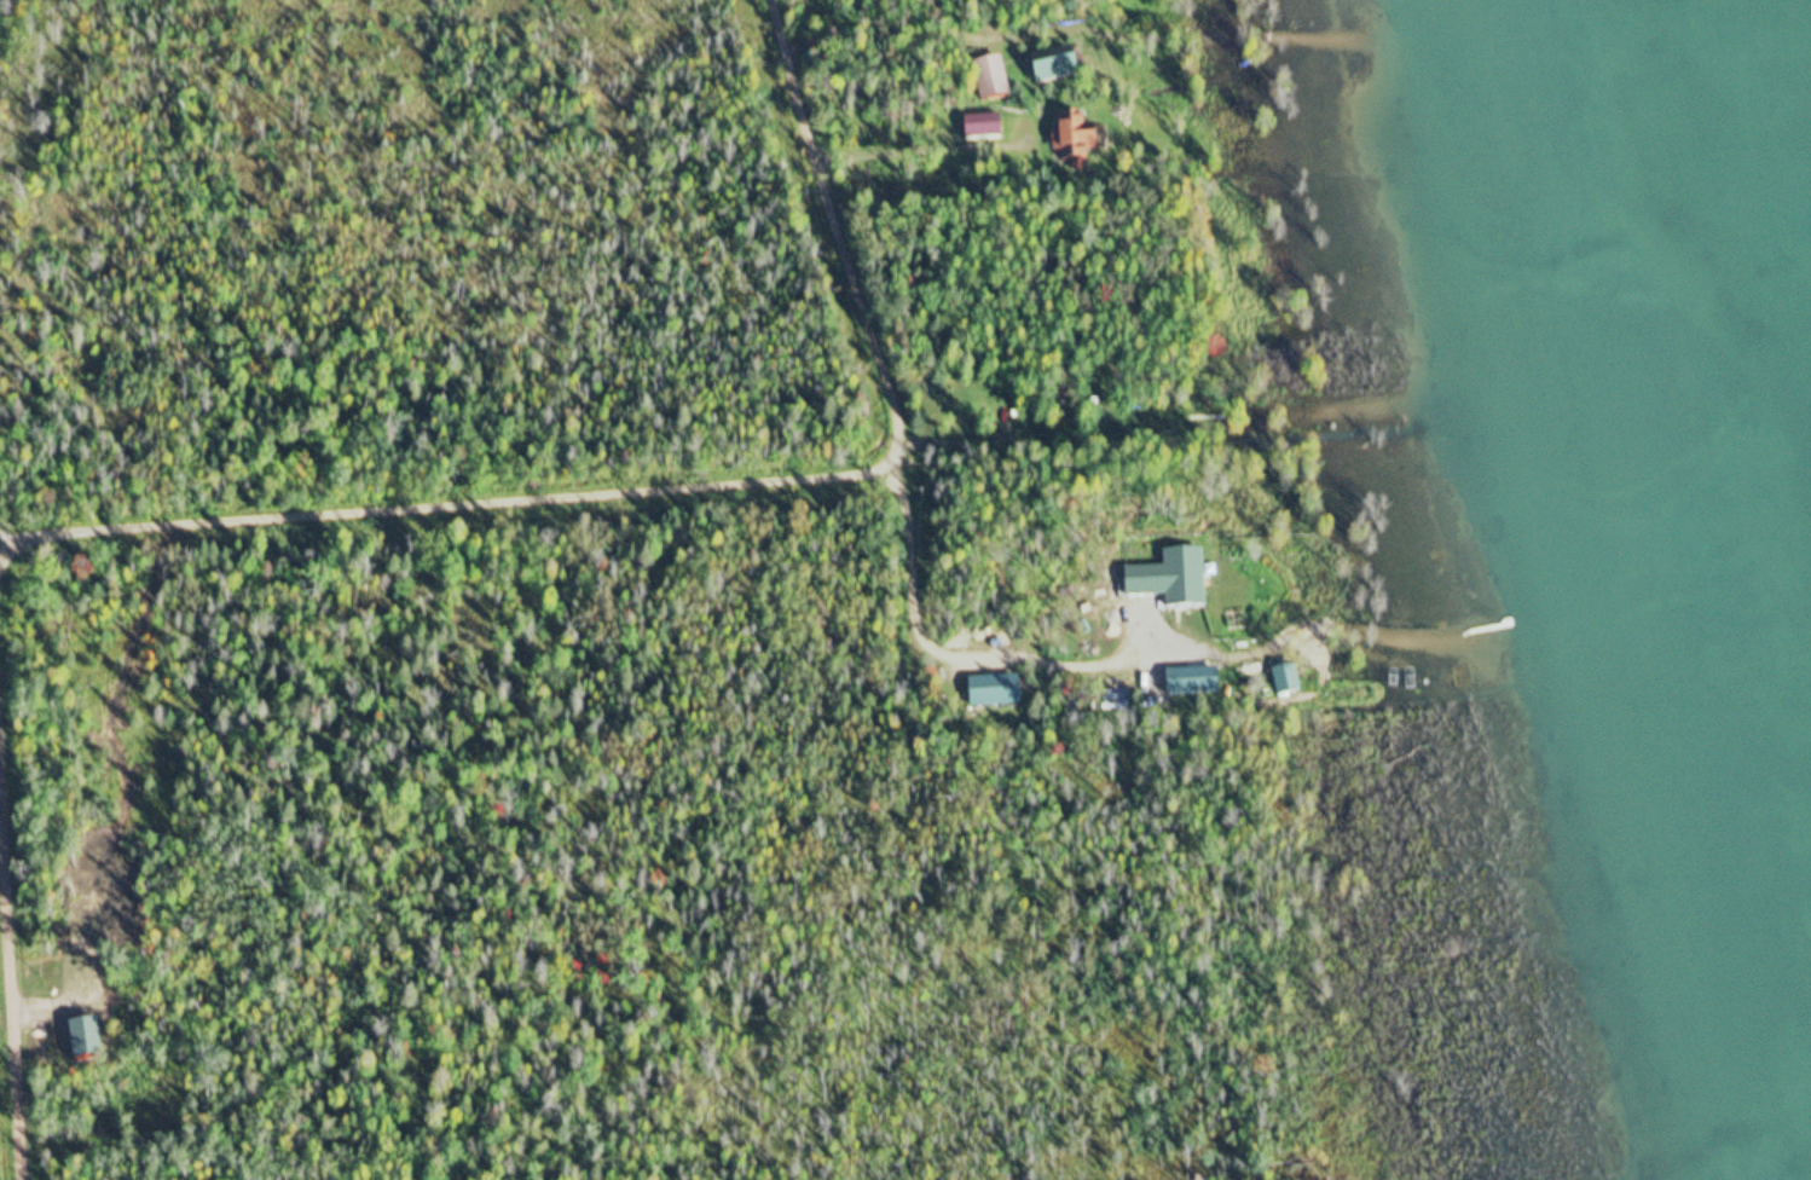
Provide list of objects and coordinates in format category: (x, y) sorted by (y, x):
building: (1057, 69)
building: (983, 128)
road: (811, 226)
road: (420, 478)
building: (1286, 681)
building: (1193, 682)
building: (996, 692)
road: (7, 961)

